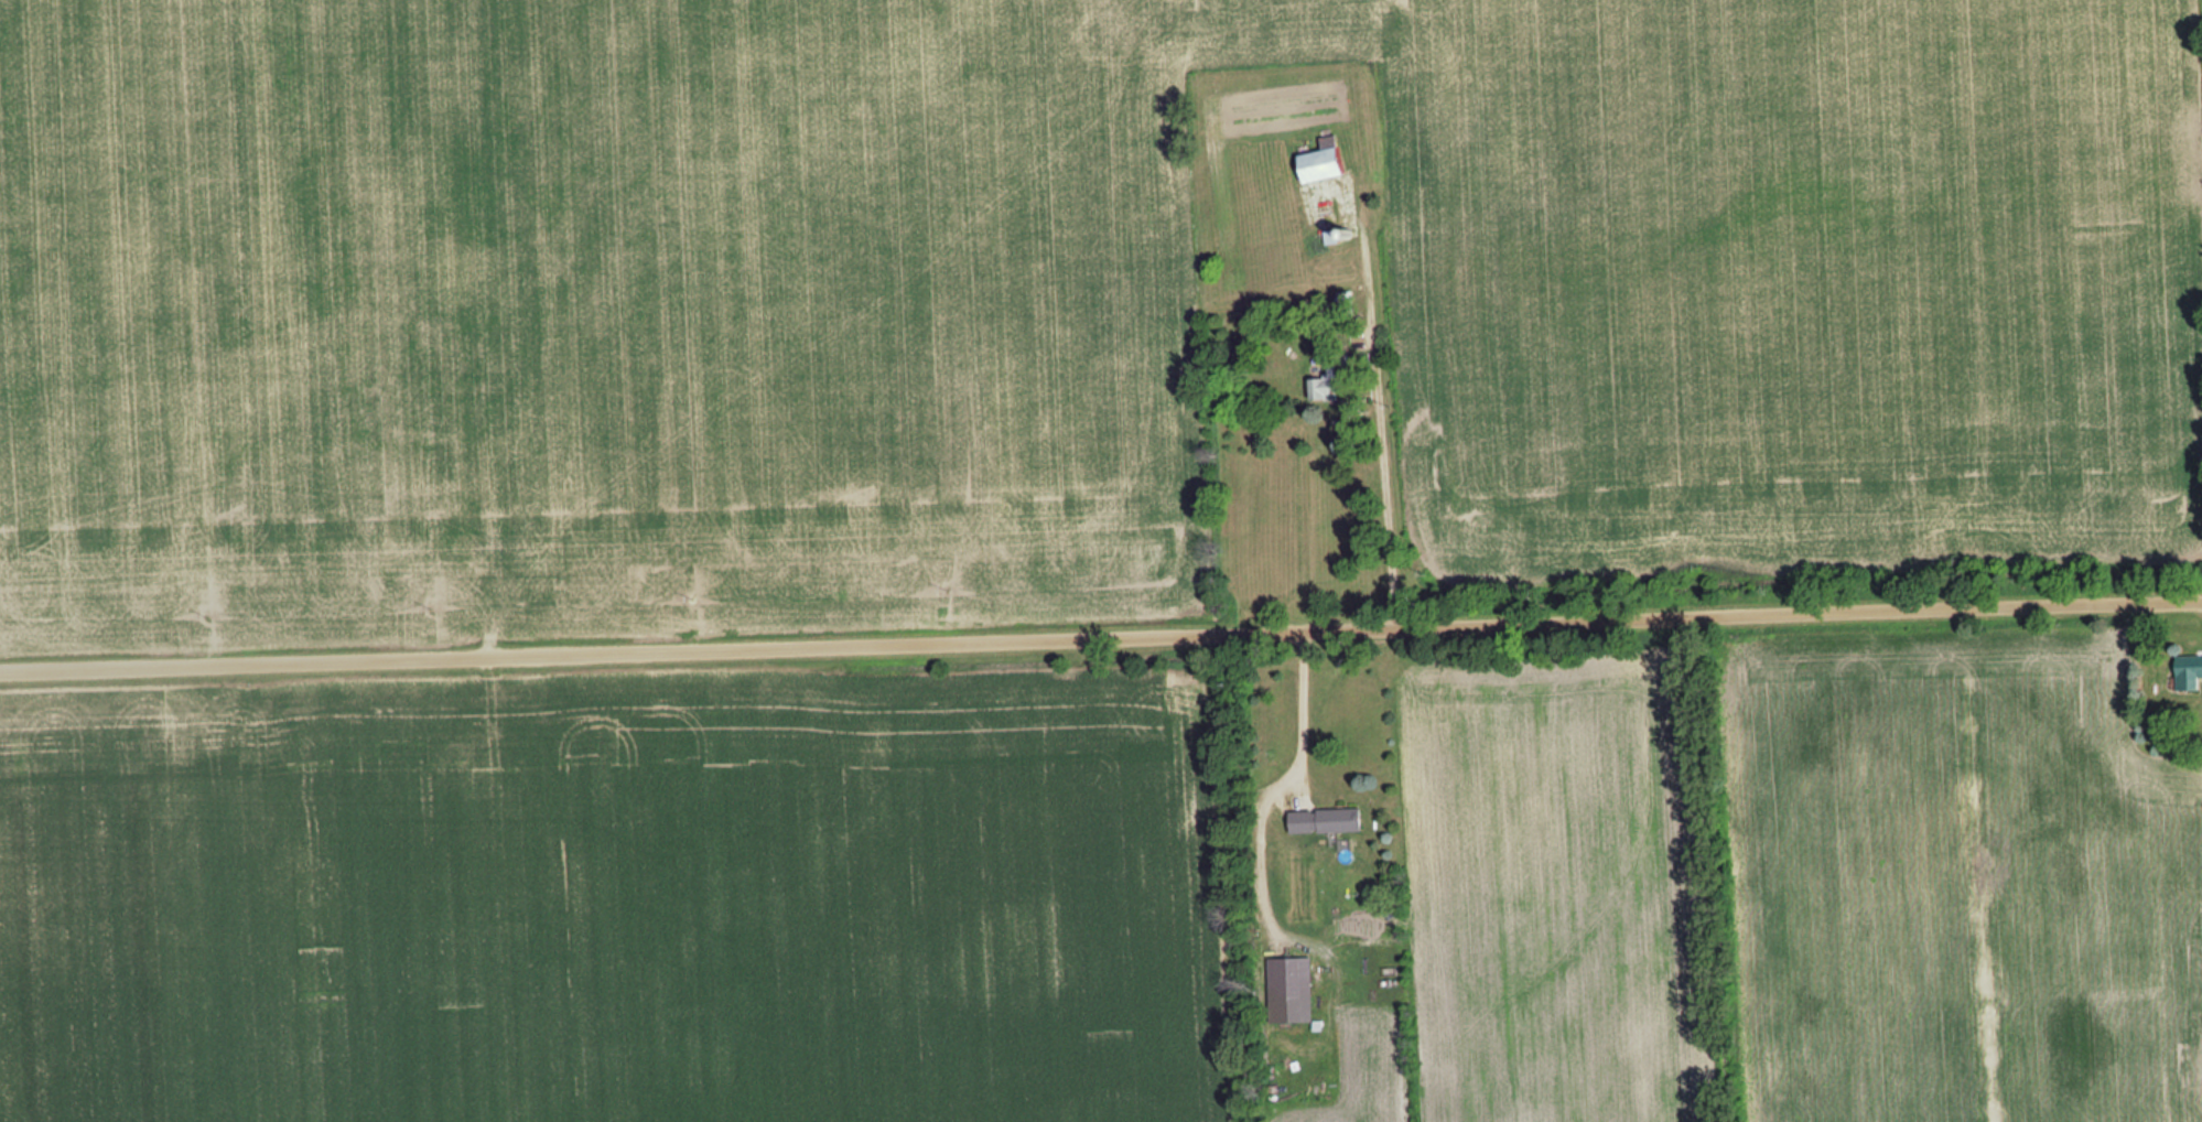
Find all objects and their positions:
building: (1325, 164)
building: (1329, 382)
road: (1100, 633)
building: (2189, 673)
building: (1328, 822)
building: (1292, 978)

